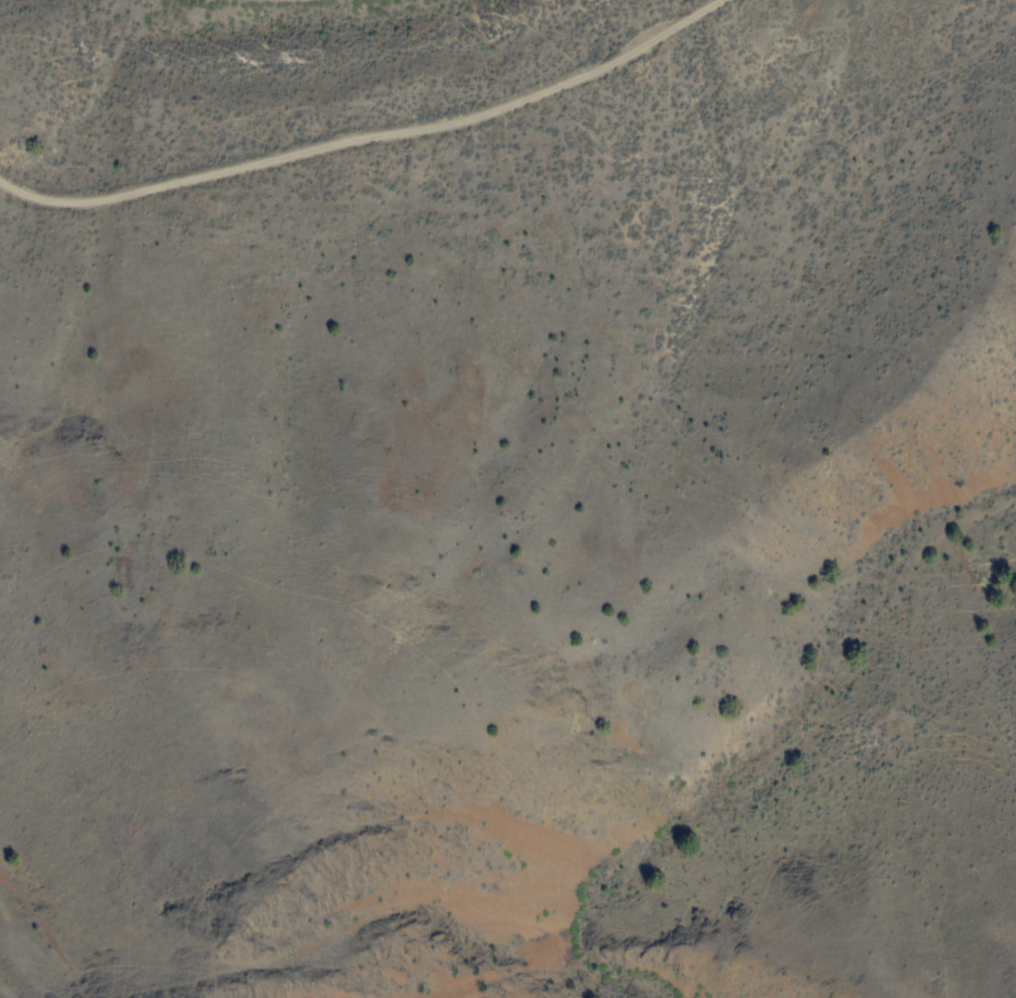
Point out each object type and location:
road: (367, 136)

